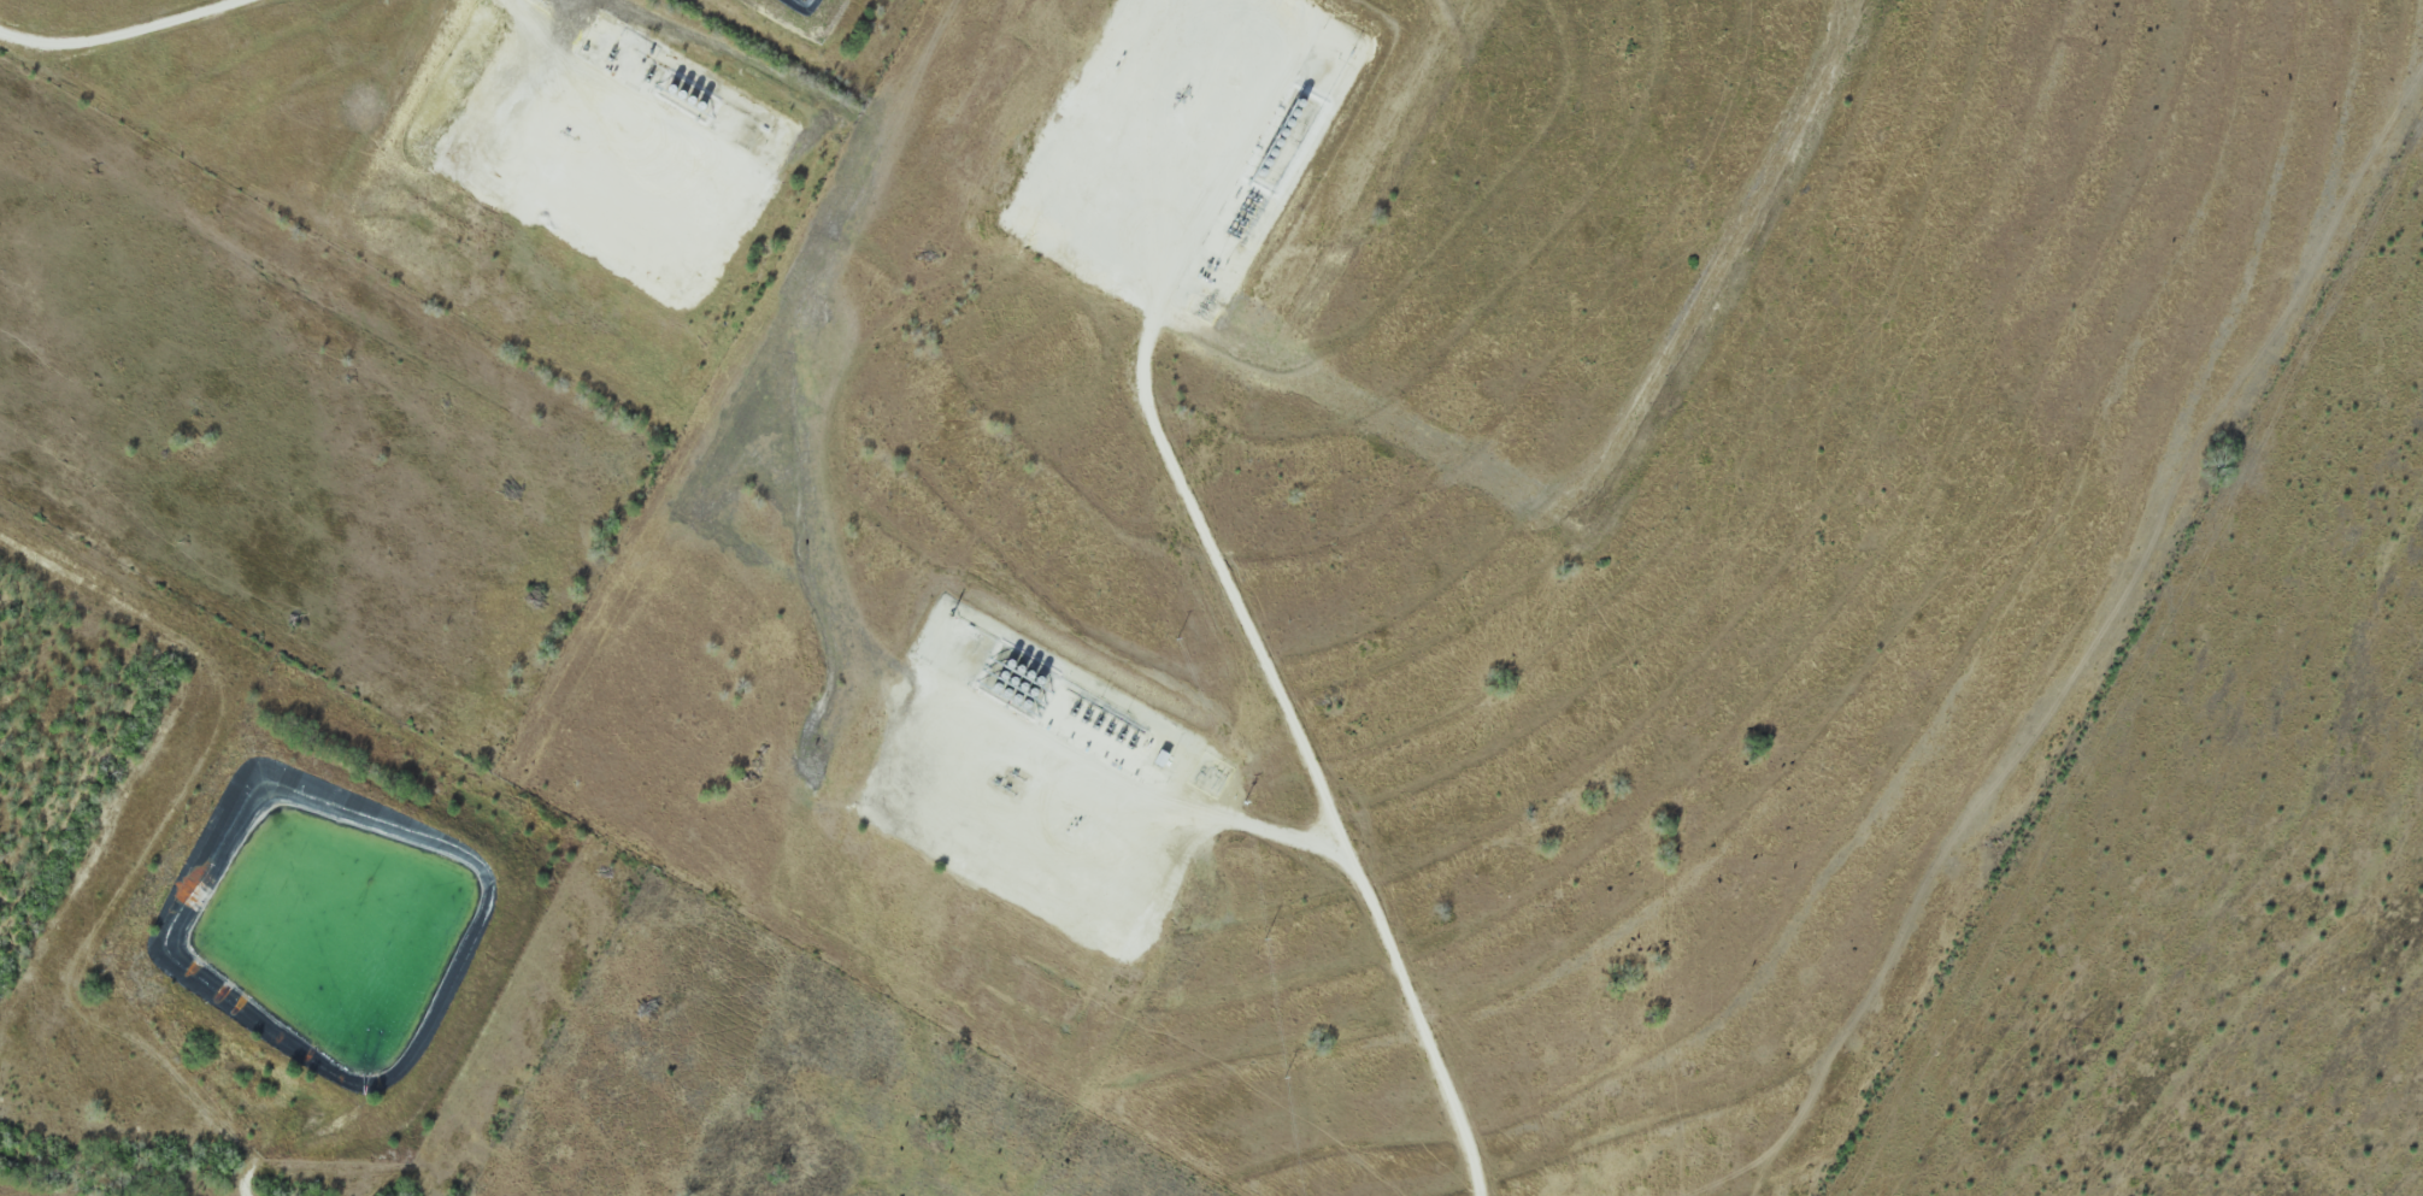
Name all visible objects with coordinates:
road: (552, 4)
road: (117, 35)
road: (1290, 705)
road: (1247, 837)

